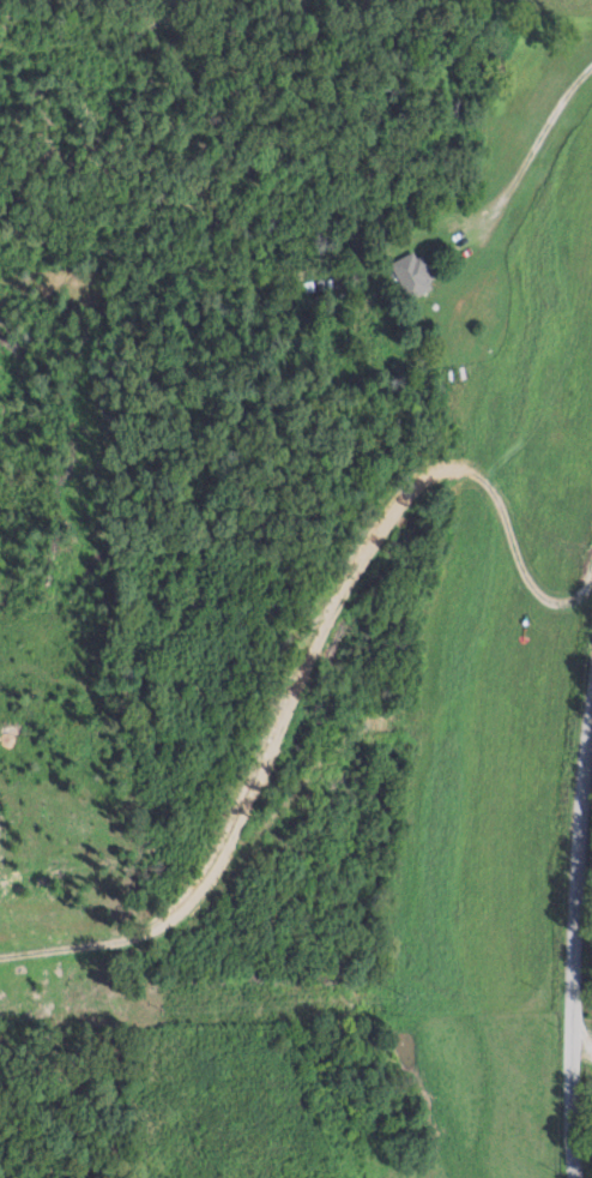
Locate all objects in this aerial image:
road: (528, 151)
building: (411, 275)
road: (297, 687)
road: (572, 907)
road: (581, 1028)

